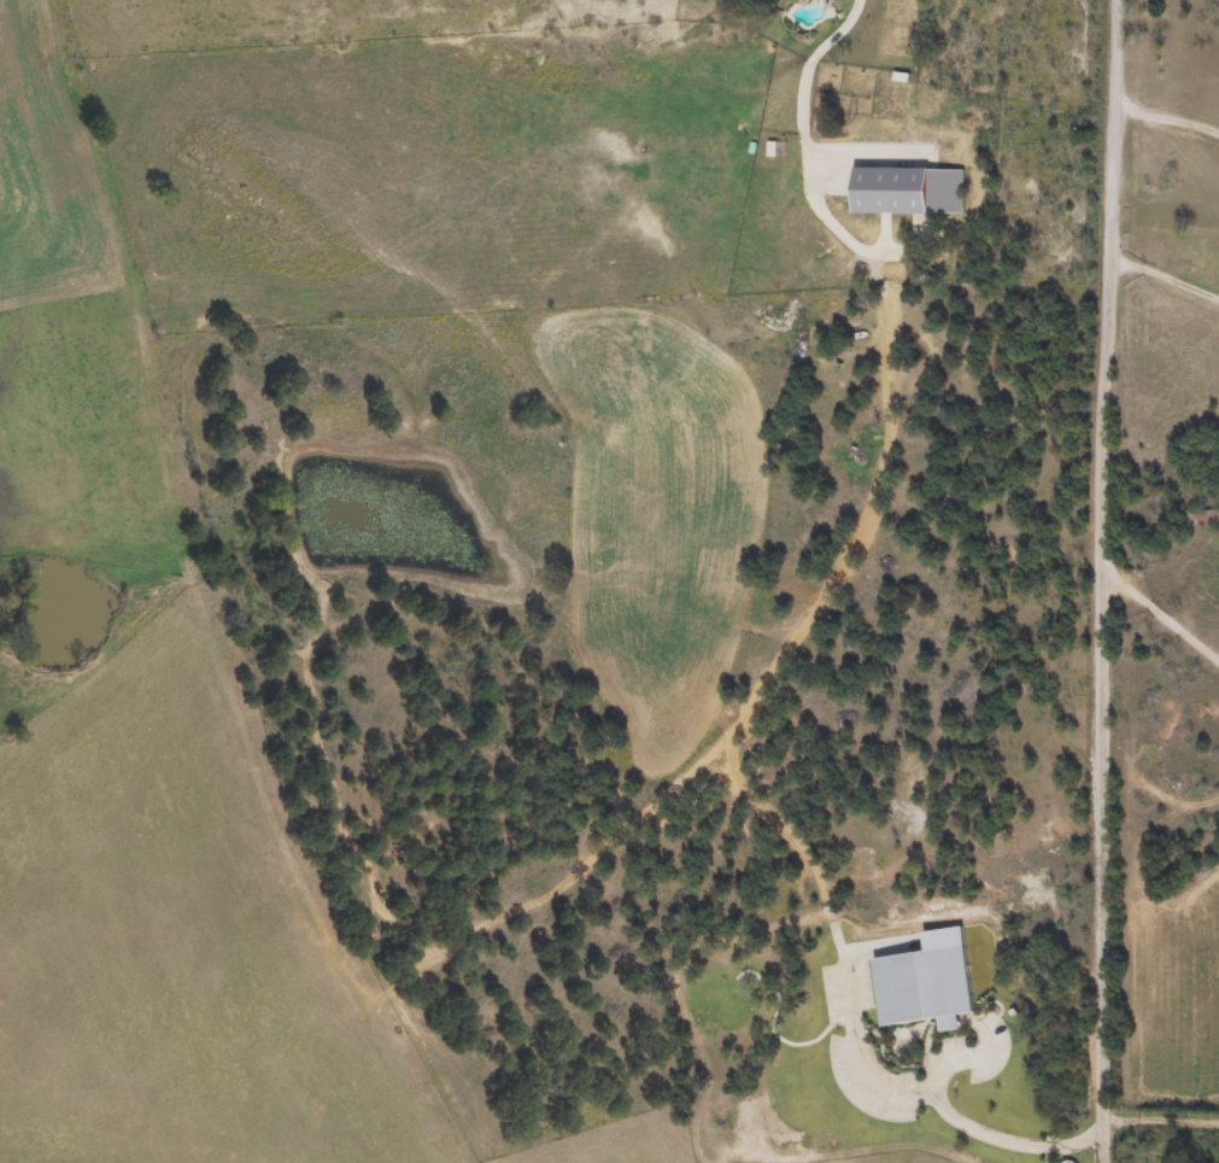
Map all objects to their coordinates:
building: (893, 68)
road: (1166, 118)
road: (1162, 276)
road: (1102, 290)
building: (1205, 519)
road: (1162, 615)
road: (1101, 871)
road: (966, 1063)
road: (934, 1093)

